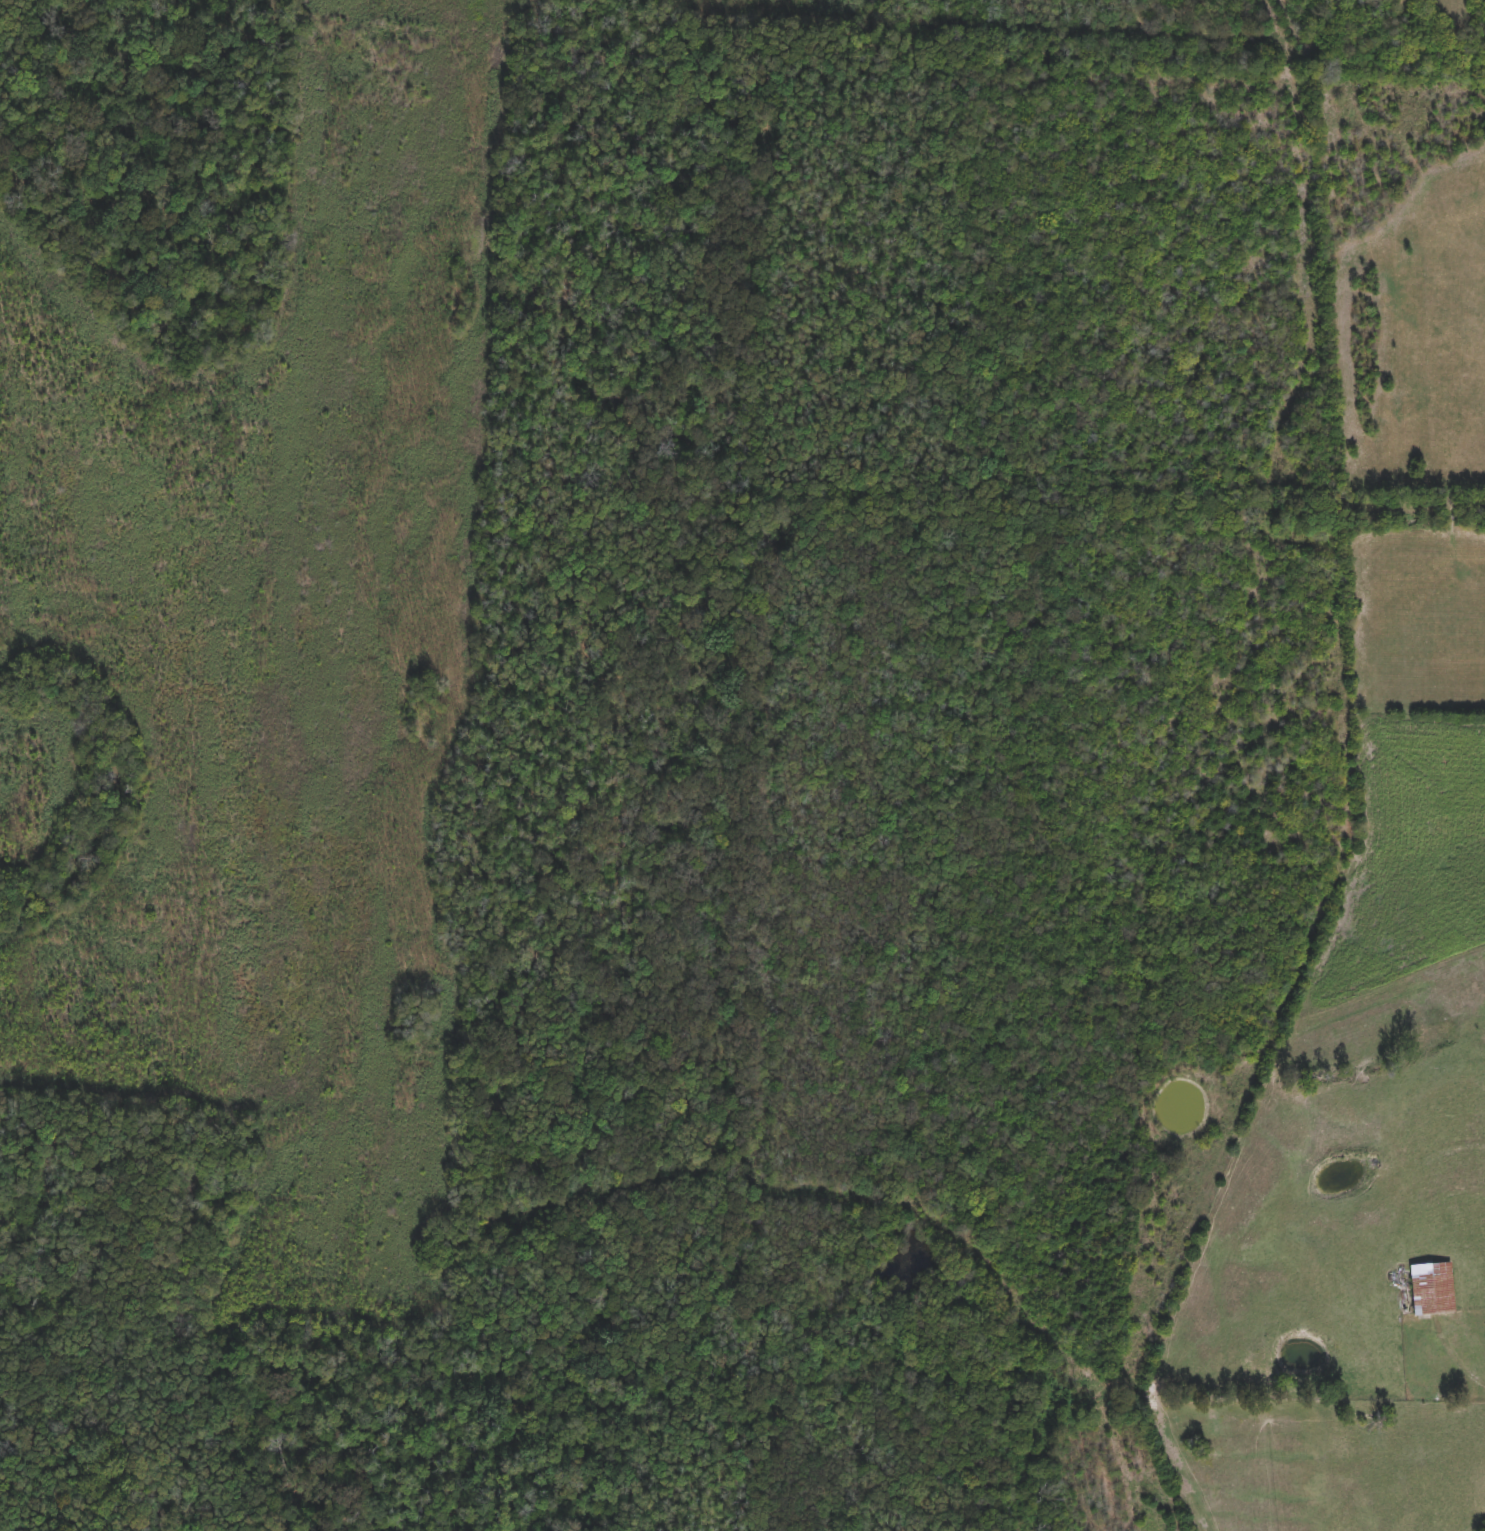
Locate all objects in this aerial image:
building: (1432, 1290)
road: (1450, 1360)

